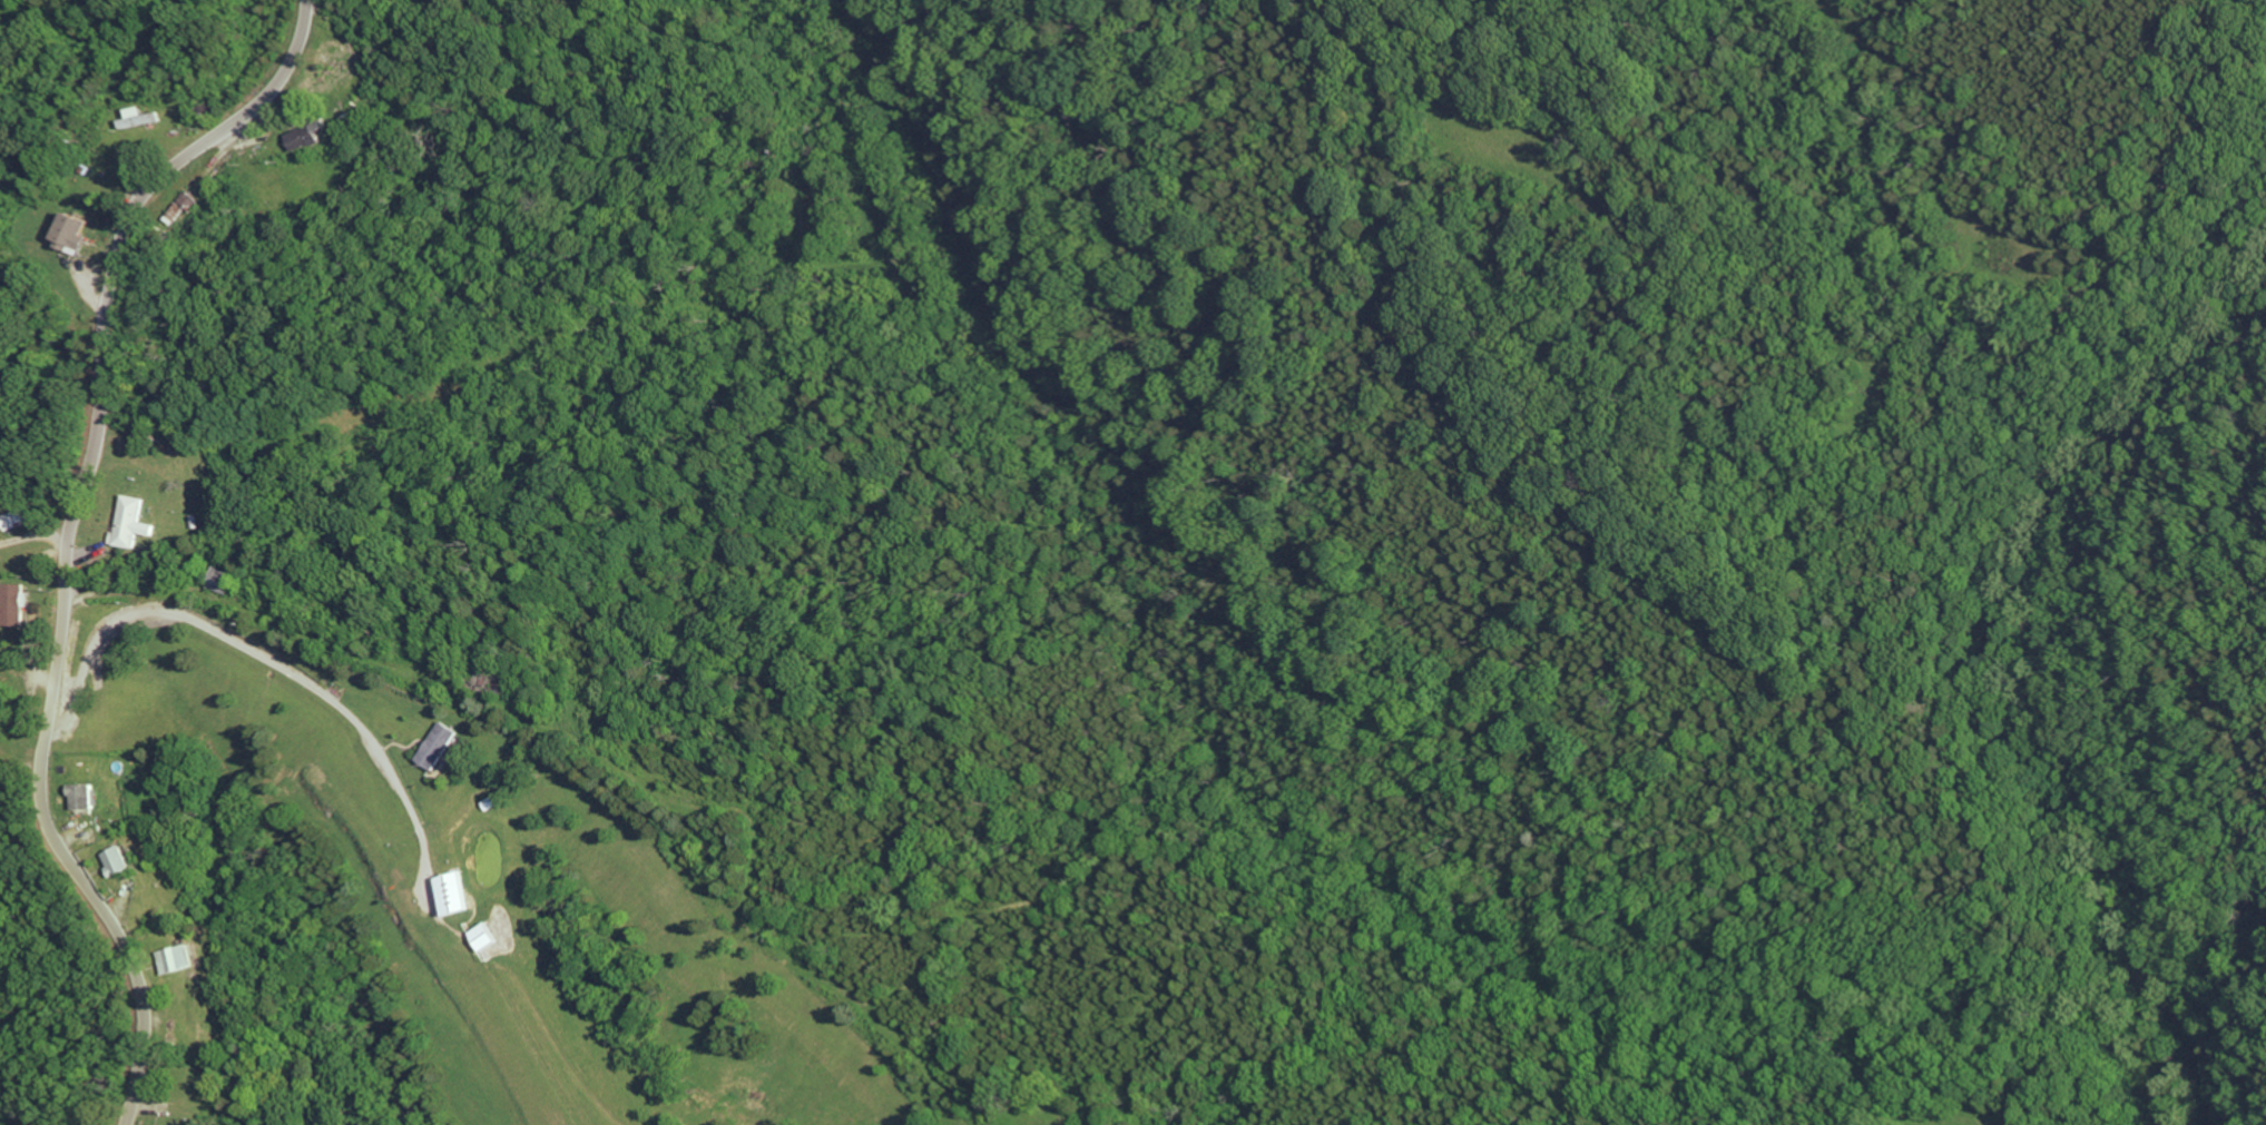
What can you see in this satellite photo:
building: (148, 118)
building: (307, 138)
building: (184, 206)
building: (77, 234)
building: (16, 522)
building: (136, 524)
road: (73, 535)
road: (36, 541)
building: (19, 605)
road: (84, 660)
road: (293, 688)
building: (438, 744)
building: (87, 796)
building: (120, 860)
building: (457, 892)
building: (489, 936)
building: (183, 958)

